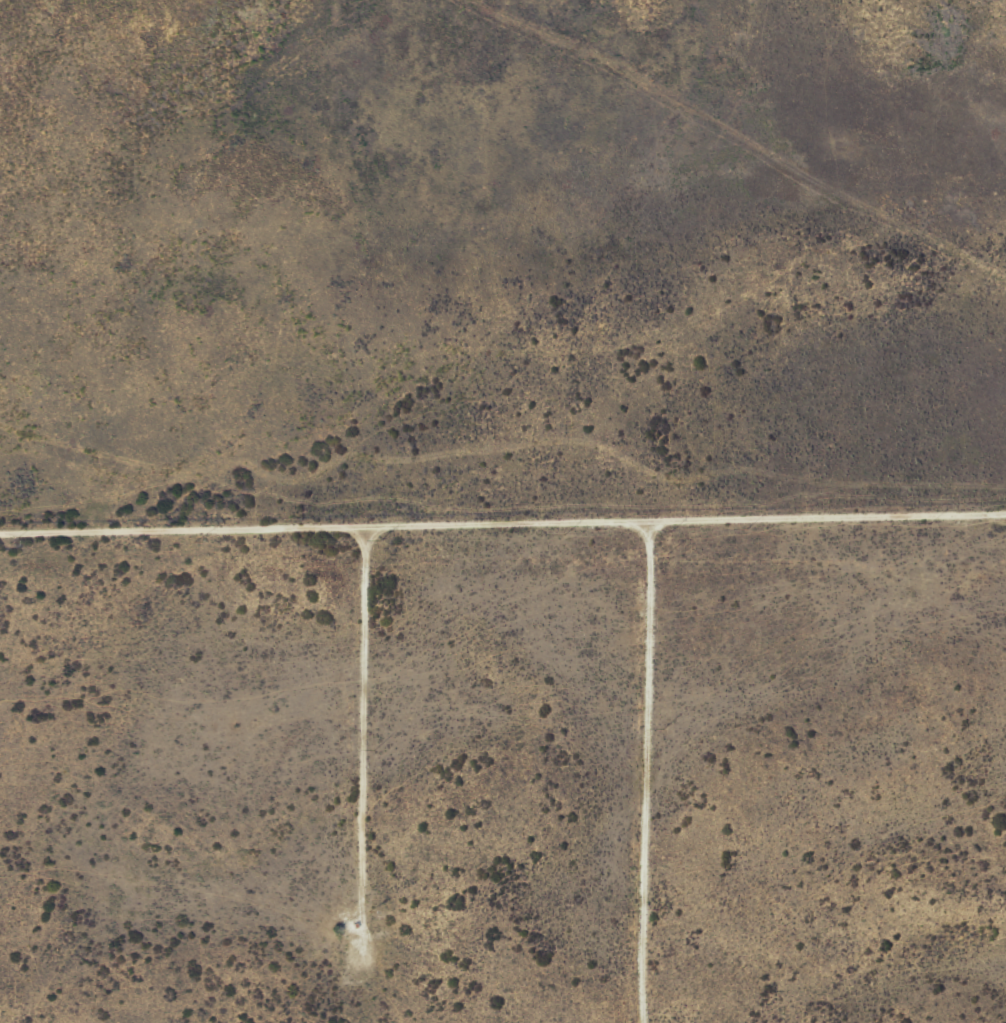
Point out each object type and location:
road: (502, 523)

